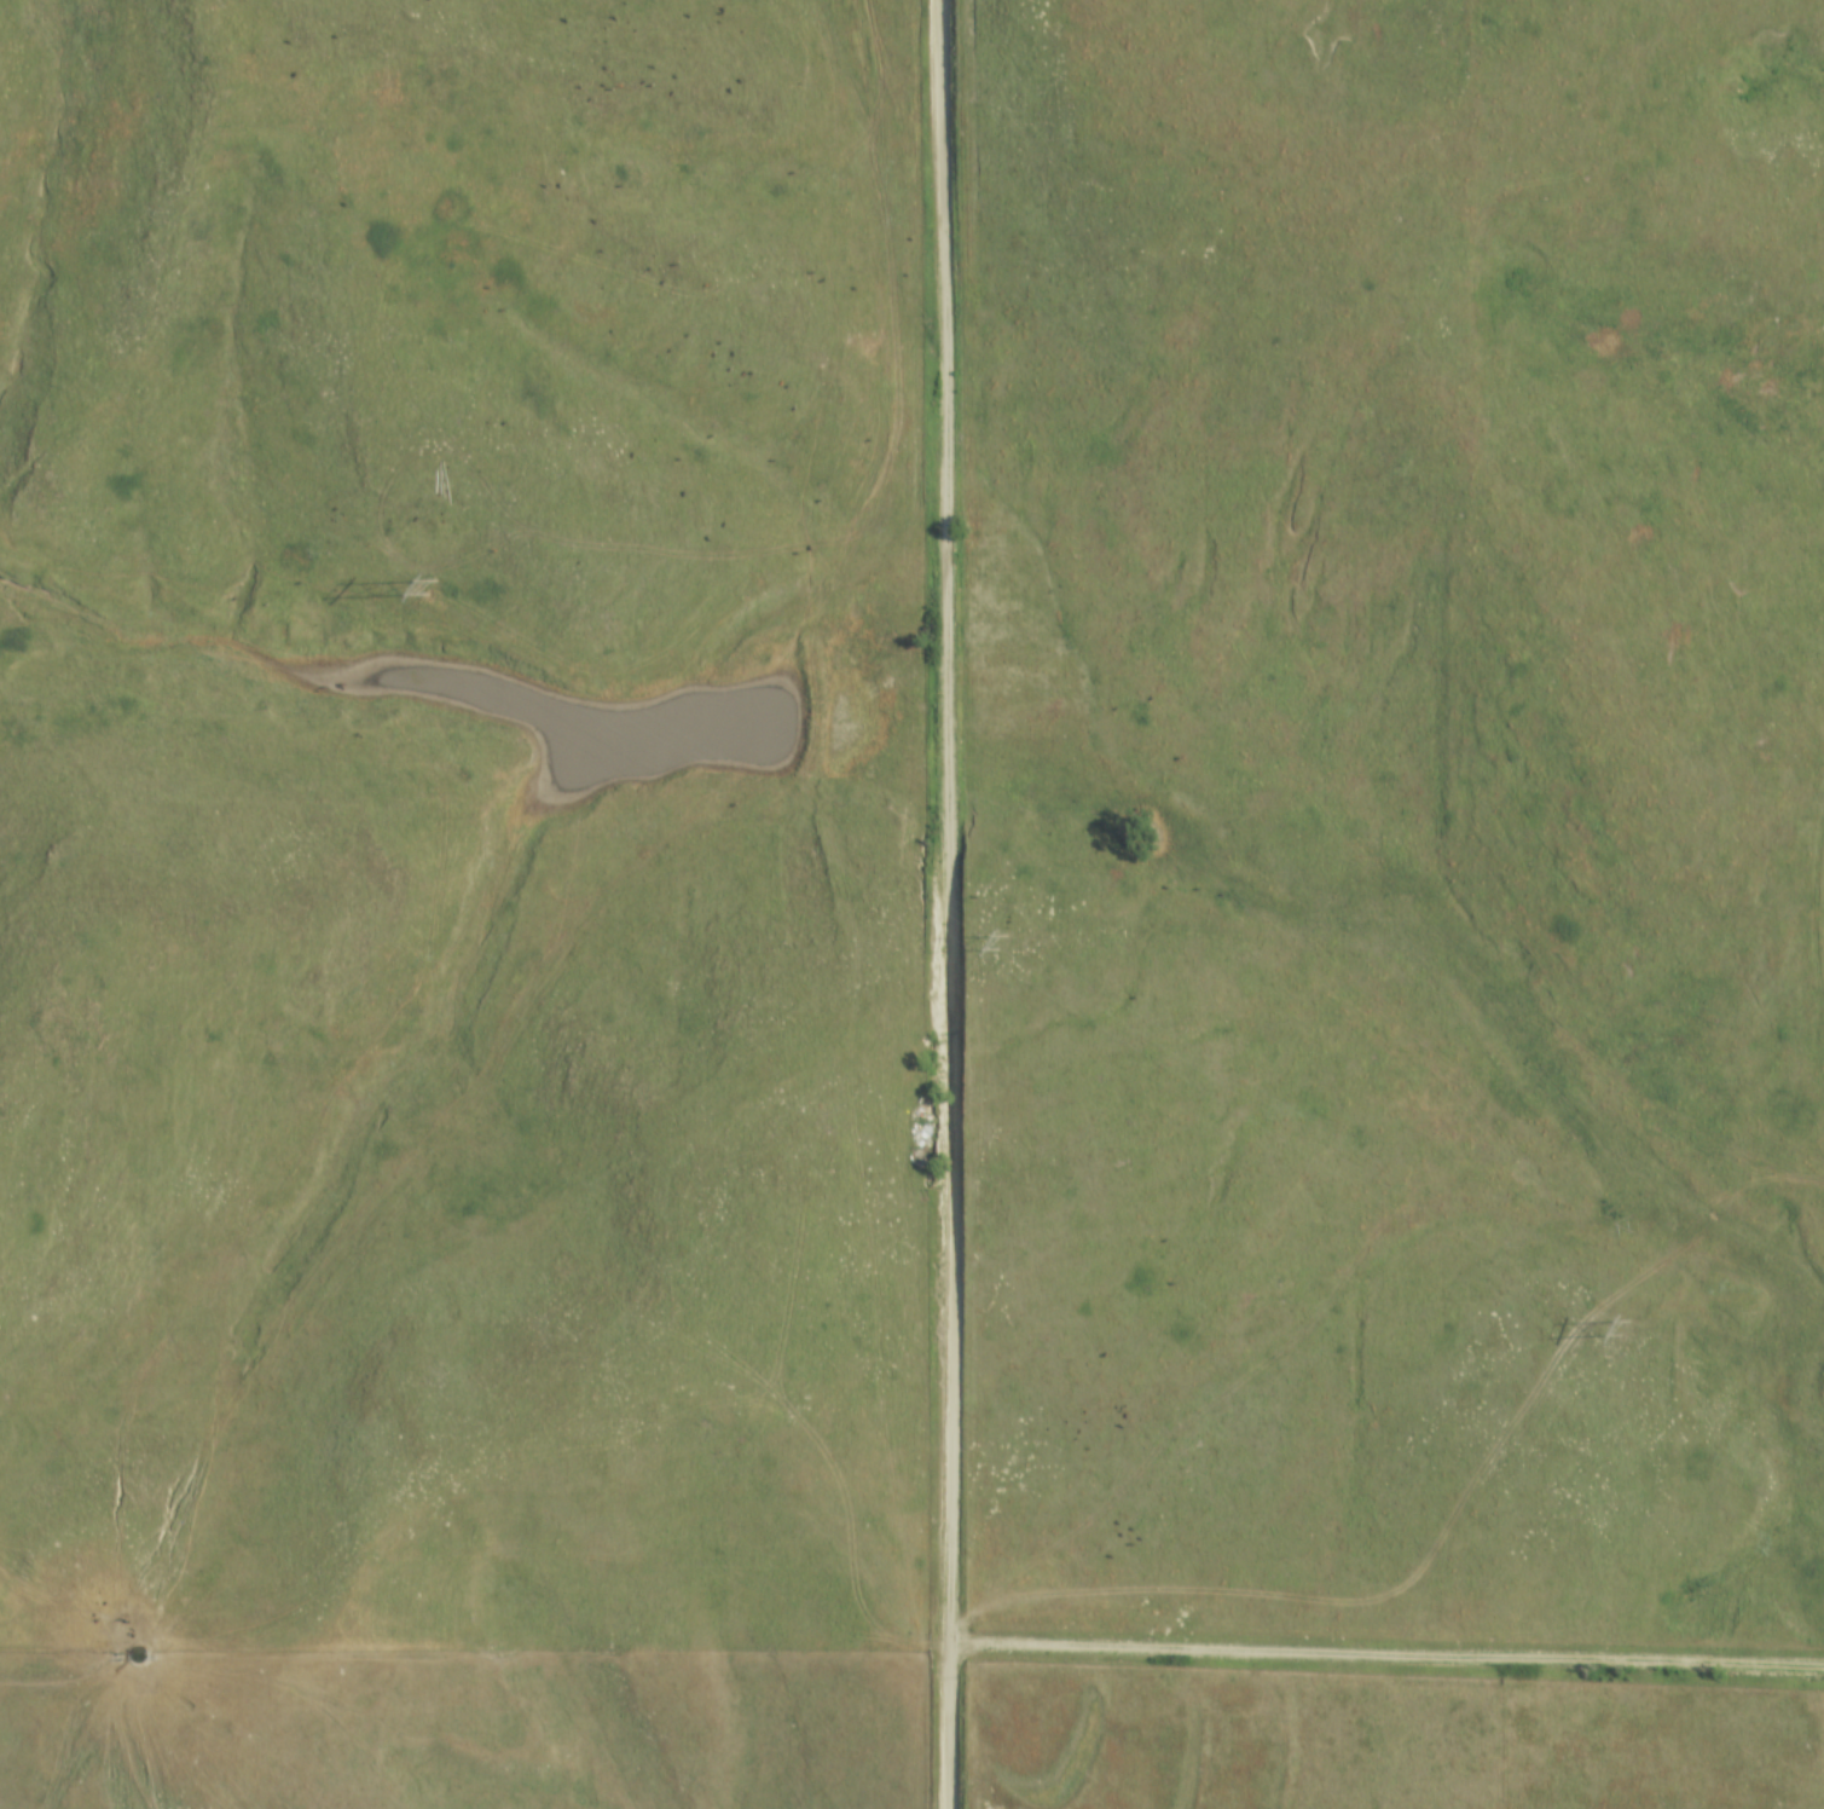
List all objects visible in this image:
power tower: (428, 585)
road: (939, 903)
power tower: (1002, 941)
power tower: (1619, 1329)
road: (1384, 1655)

